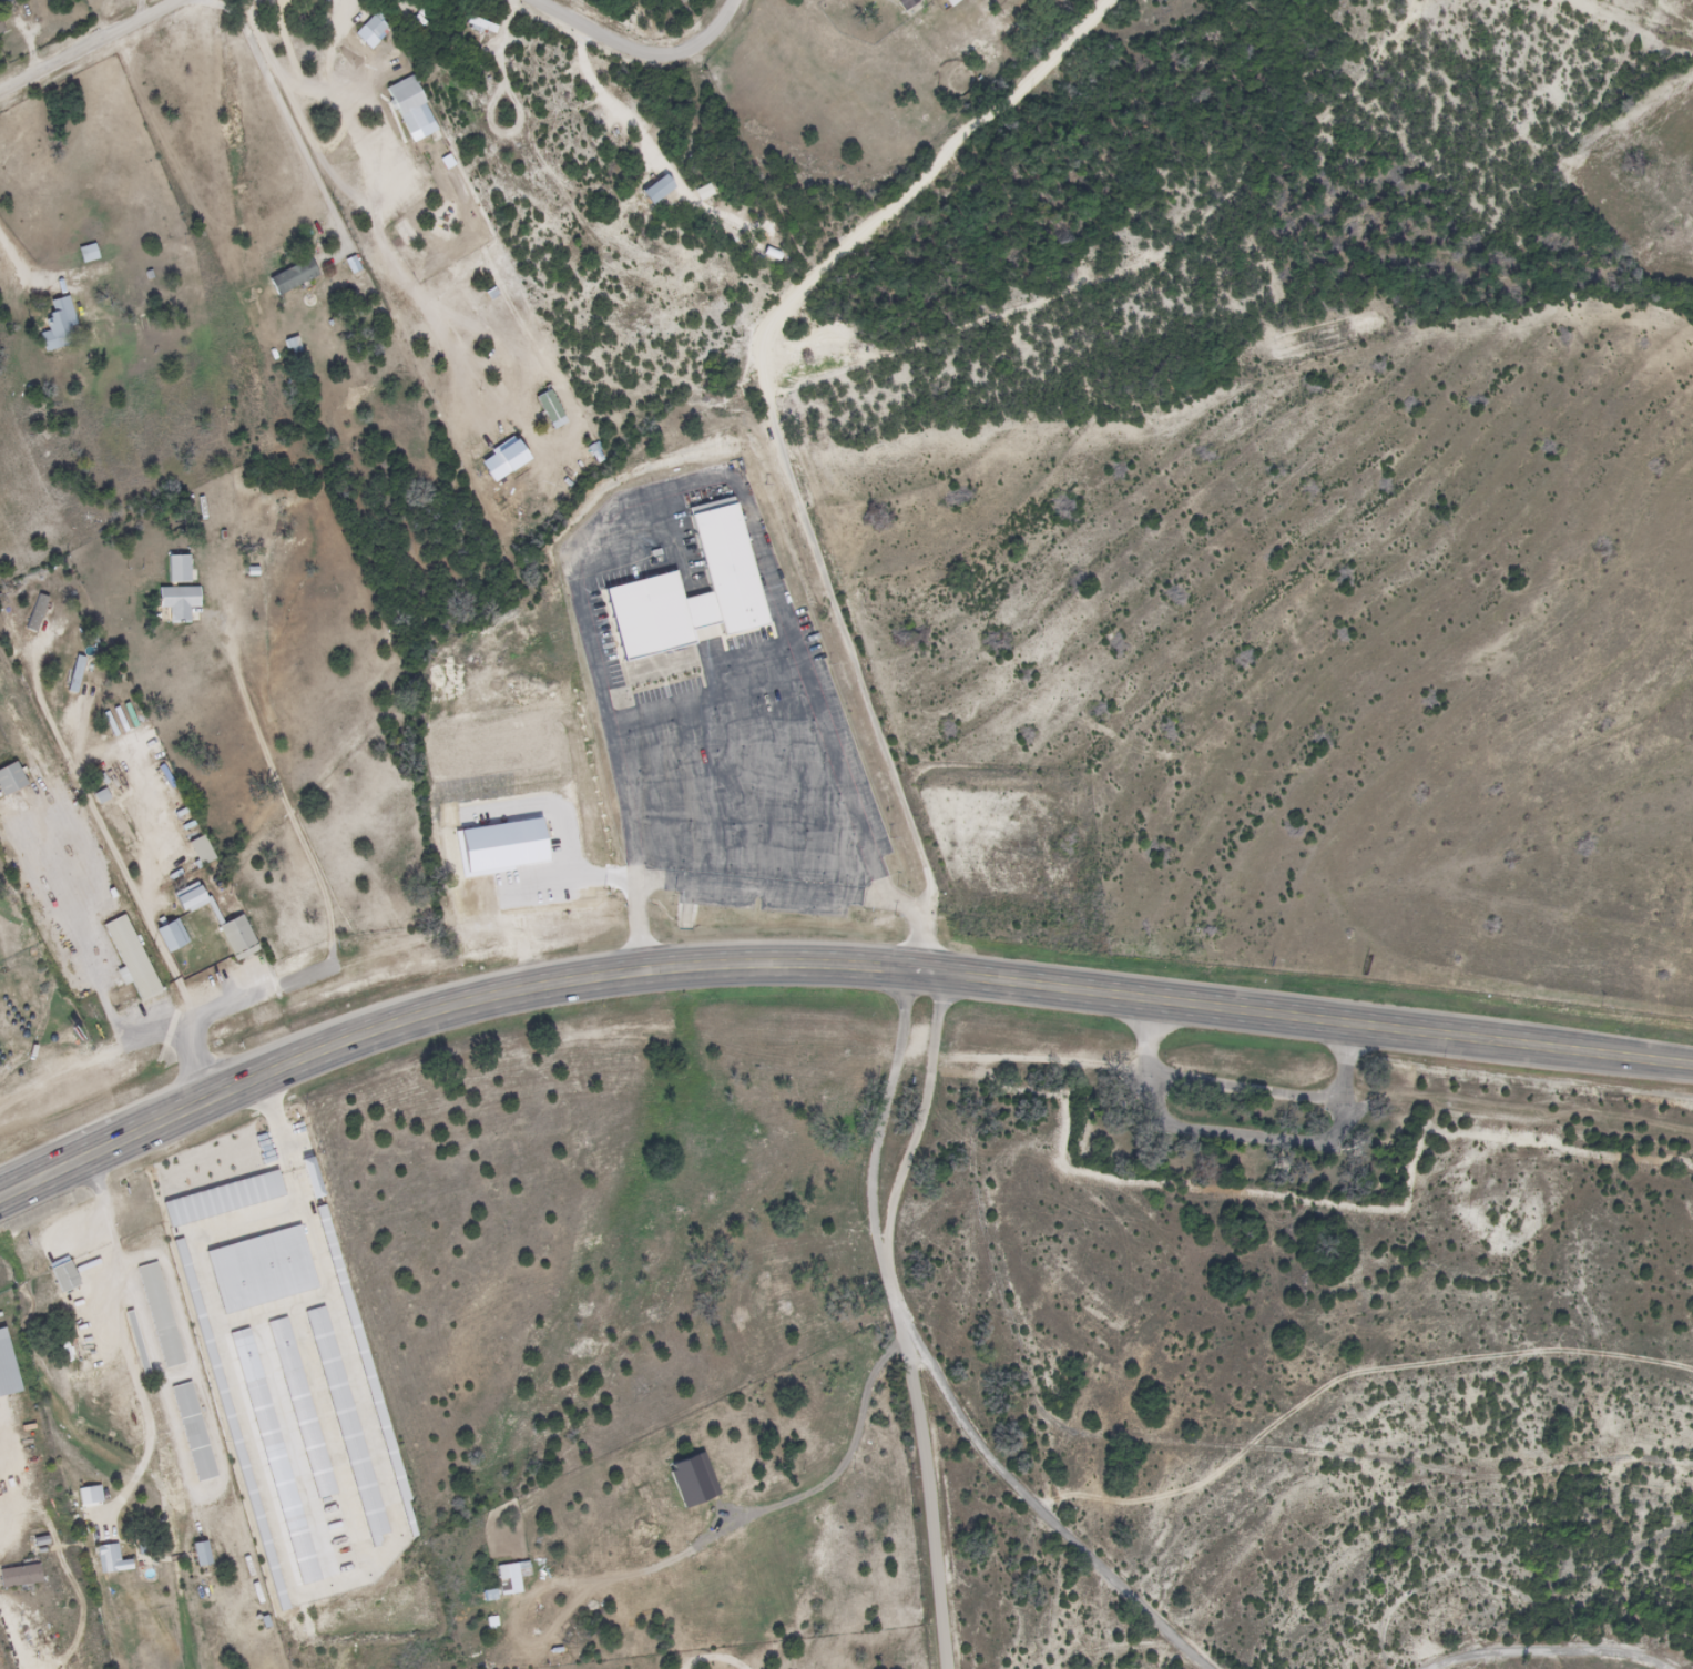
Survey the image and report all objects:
building: (904, 3)
building: (480, 24)
building: (0, 31)
building: (360, 37)
road: (88, 44)
road: (644, 45)
building: (653, 190)
building: (85, 254)
building: (290, 276)
building: (57, 326)
building: (174, 569)
building: (733, 580)
building: (175, 602)
building: (656, 621)
building: (9, 778)
building: (197, 851)
building: (166, 937)
building: (235, 938)
building: (130, 958)
road: (837, 968)
road: (1131, 1064)
road: (893, 1101)
road: (926, 1105)
road: (1253, 1134)
road: (9, 1193)
building: (62, 1275)
building: (159, 1315)
road: (125, 1346)
building: (4, 1371)
building: (191, 1433)
road: (927, 1449)
road: (1384, 1472)
road: (1041, 1502)
building: (198, 1554)
building: (108, 1559)
building: (18, 1576)
road: (1554, 1639)
road: (1131, 1645)
road: (1612, 1655)

